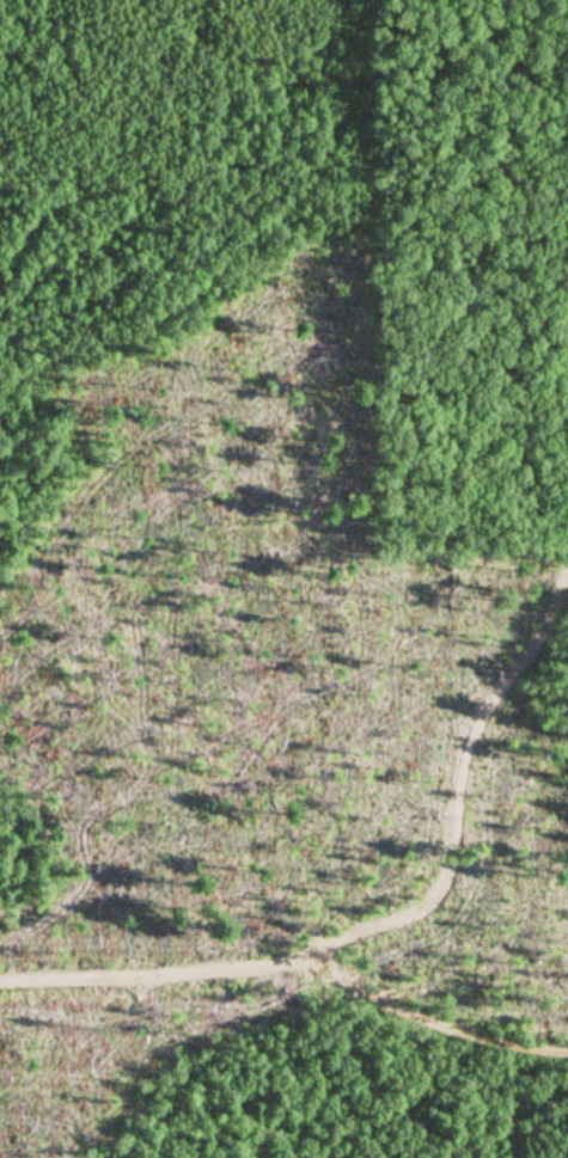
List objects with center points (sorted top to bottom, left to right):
road: (383, 917)
road: (421, 1017)

